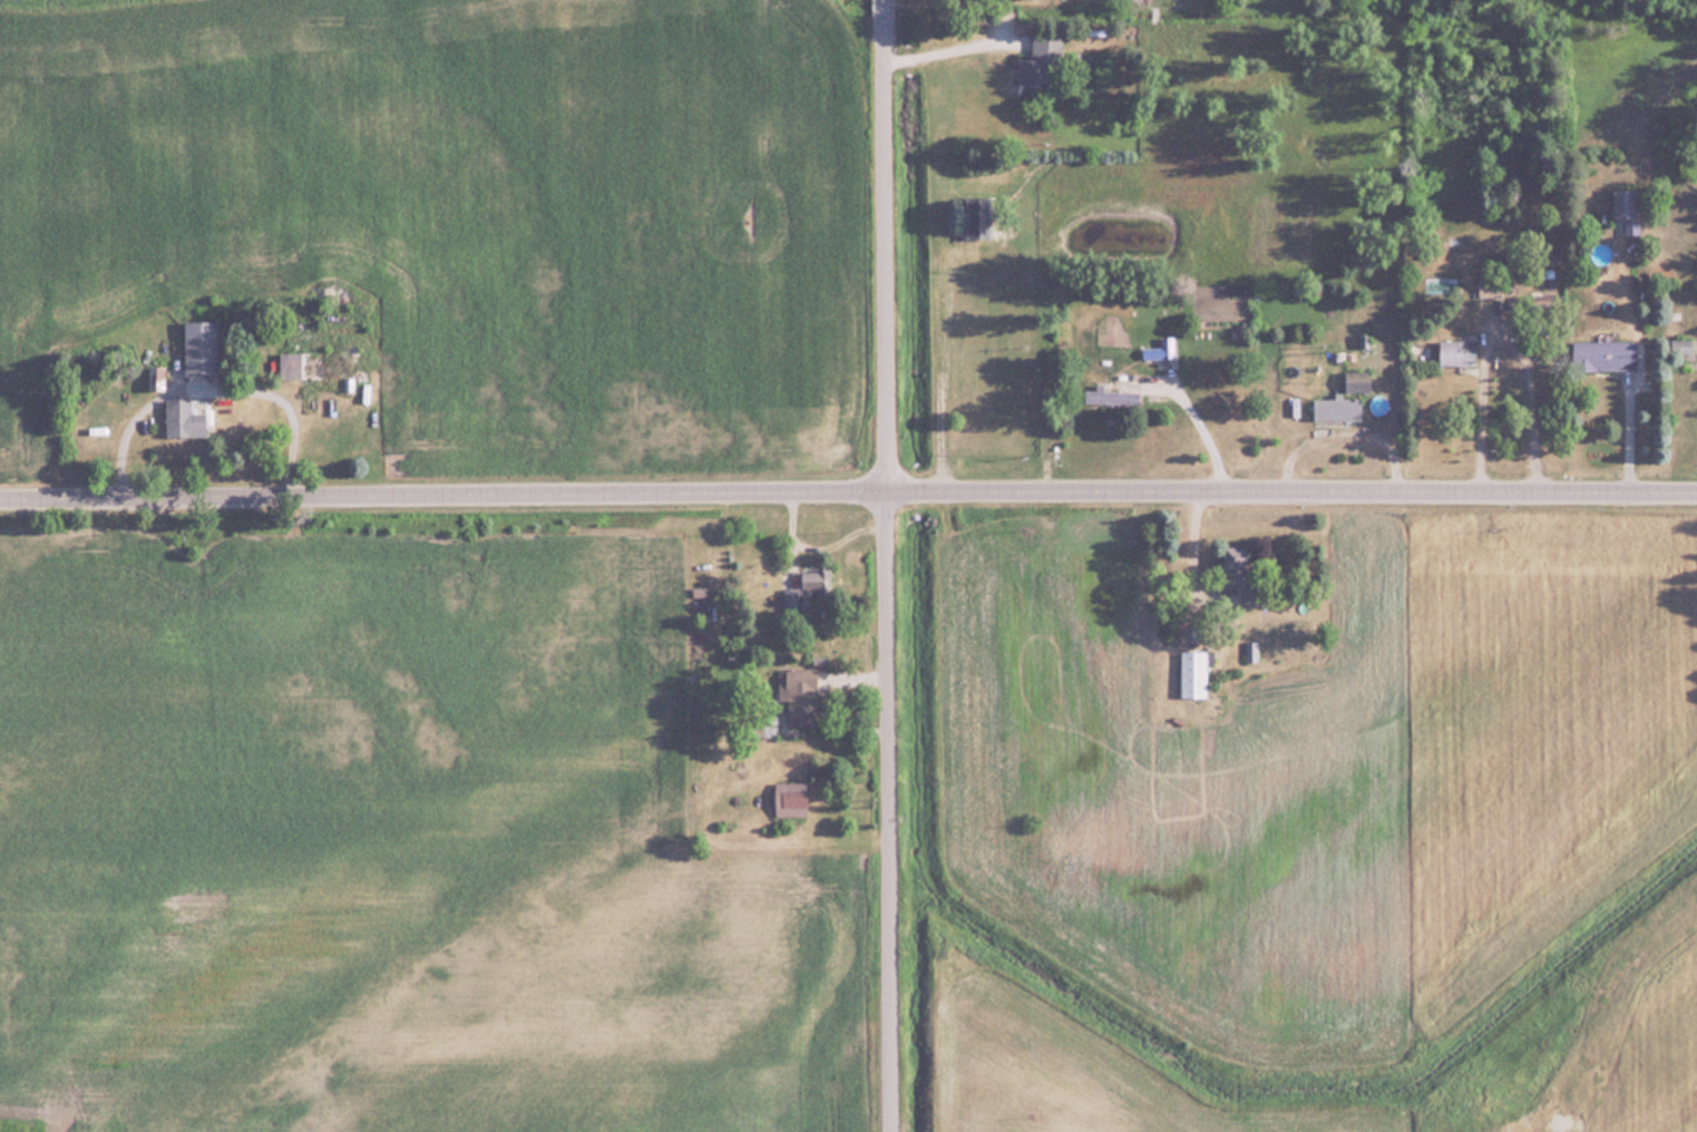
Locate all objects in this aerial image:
road: (949, 45)
building: (1040, 59)
building: (1625, 202)
building: (979, 216)
road: (887, 246)
building: (1486, 286)
road: (1501, 319)
building: (201, 345)
building: (1160, 349)
building: (1457, 351)
building: (1603, 354)
building: (319, 365)
building: (1357, 380)
road: (213, 390)
building: (1109, 394)
building: (1337, 407)
building: (185, 418)
road: (1203, 419)
road: (1629, 431)
road: (848, 494)
building: (1242, 574)
building: (804, 591)
building: (1249, 651)
building: (1193, 673)
building: (802, 696)
building: (796, 798)
road: (891, 812)

